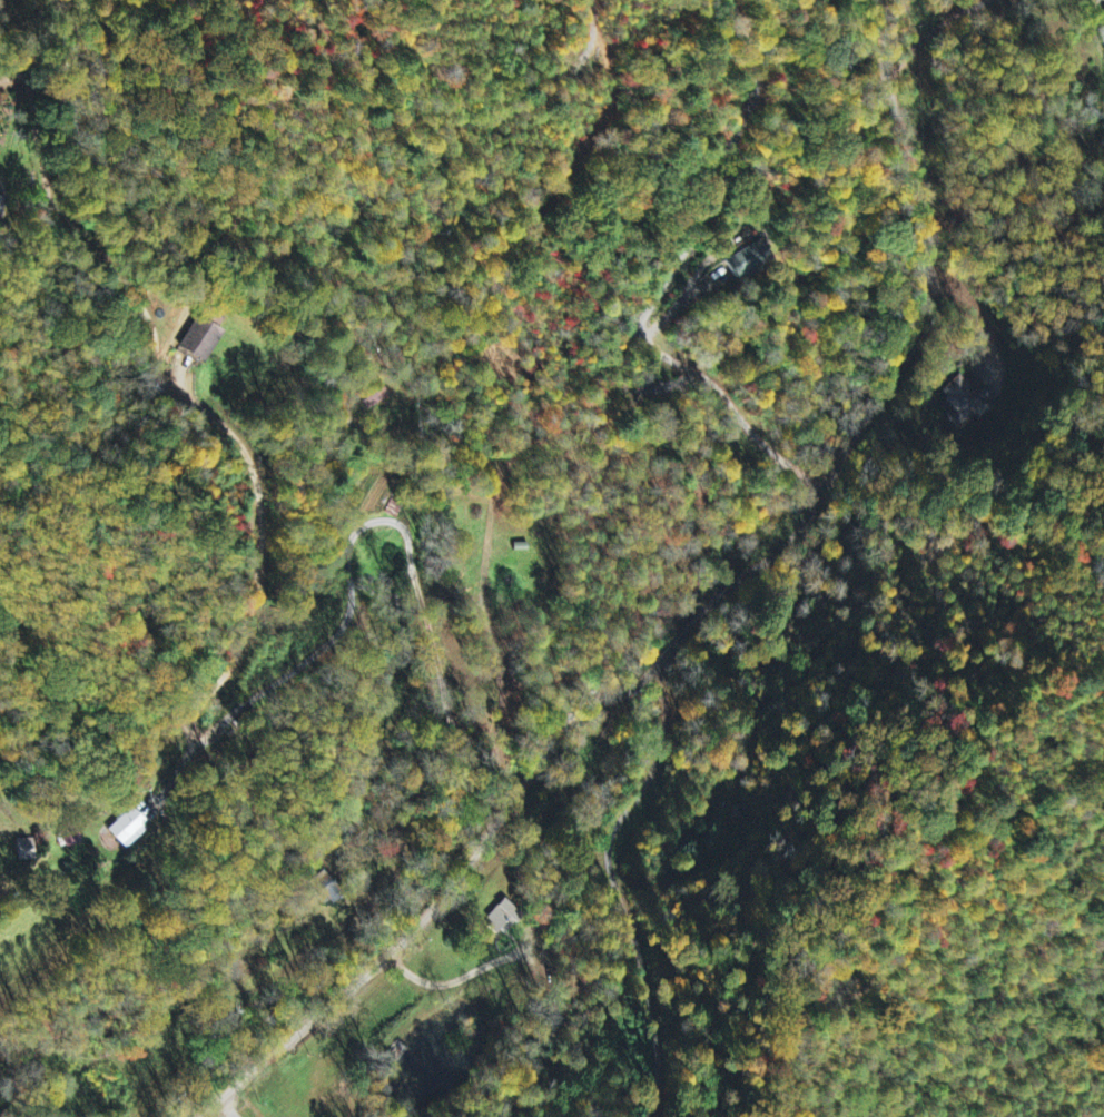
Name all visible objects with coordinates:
building: (1101, 36)
building: (747, 260)
road: (666, 279)
building: (968, 401)
road: (197, 403)
road: (844, 457)
road: (363, 526)
building: (128, 829)
building: (71, 838)
building: (26, 850)
road: (639, 946)
road: (372, 968)

